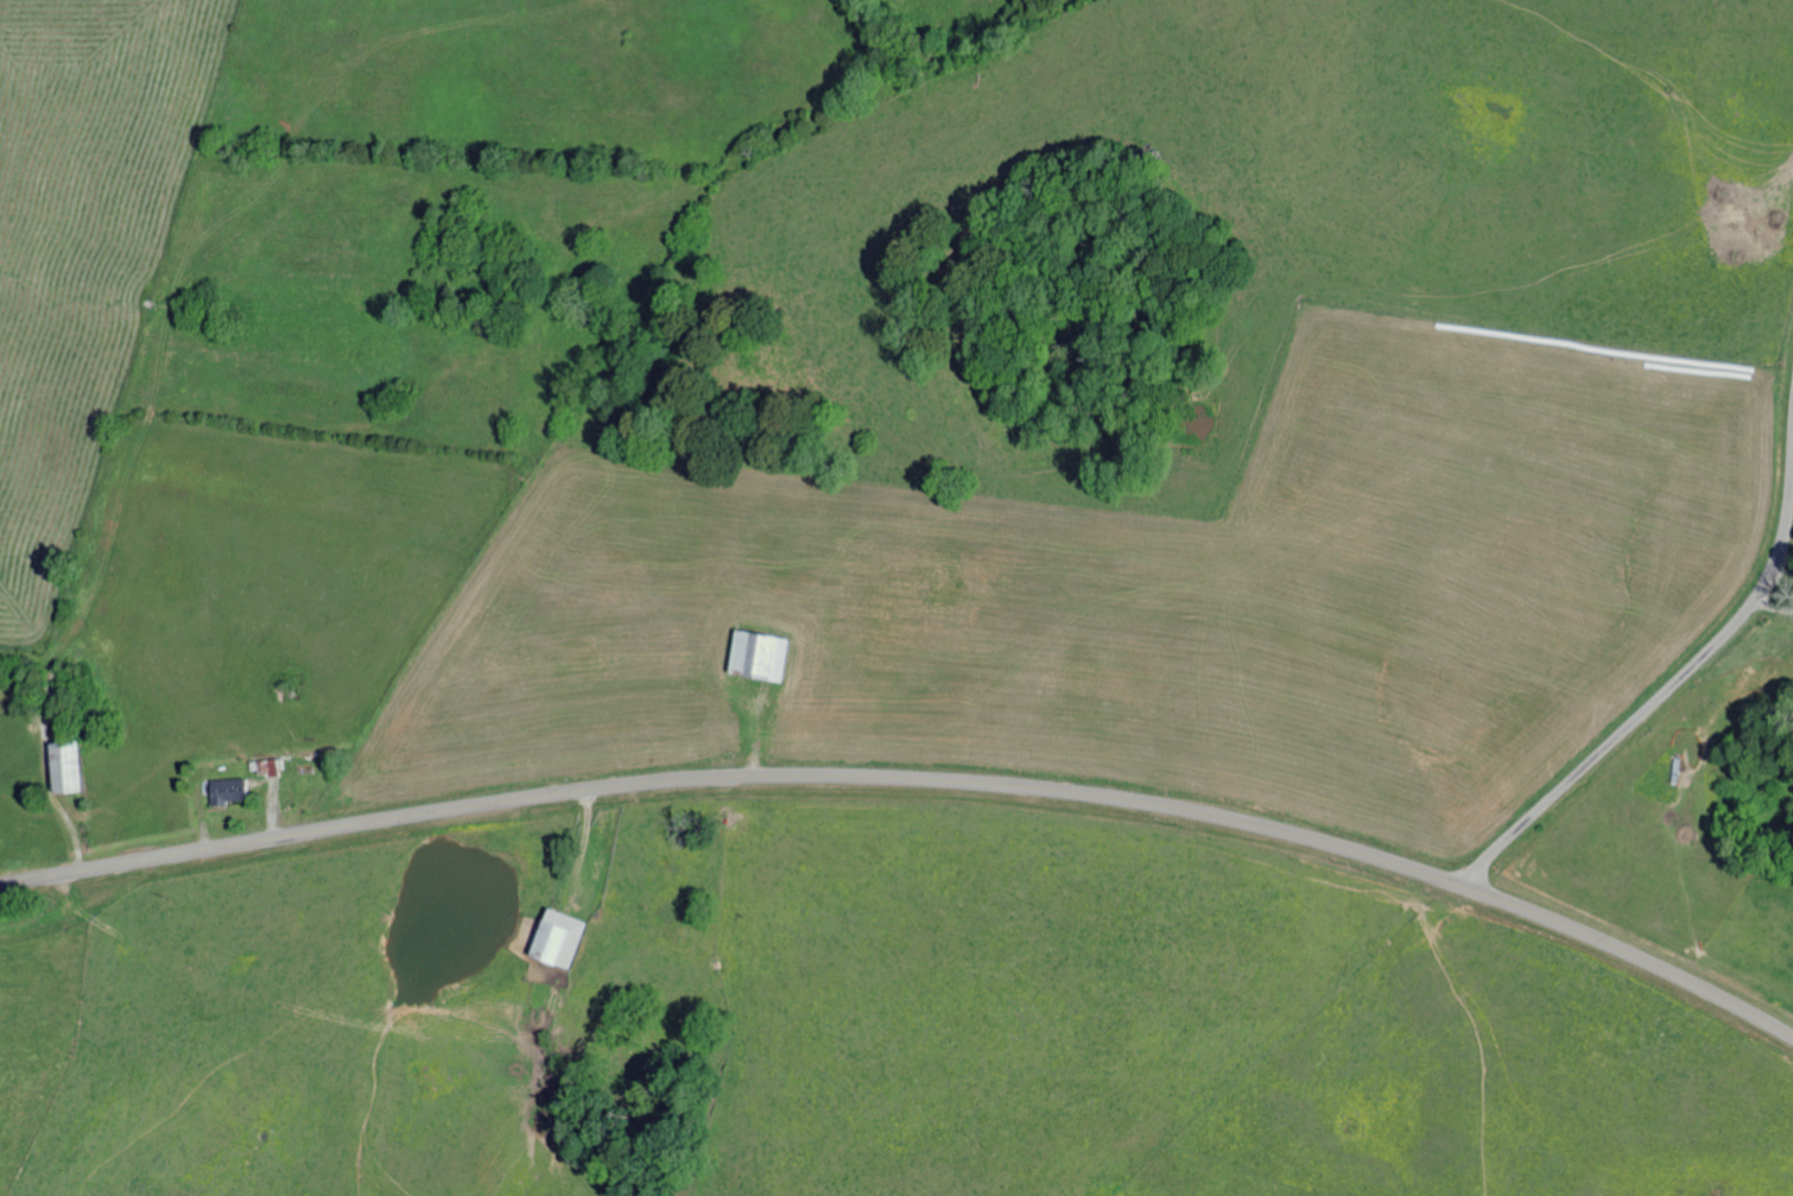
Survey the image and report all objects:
building: (759, 653)
road: (1680, 676)
building: (65, 765)
building: (265, 765)
road: (914, 779)
building: (229, 789)
building: (558, 937)

